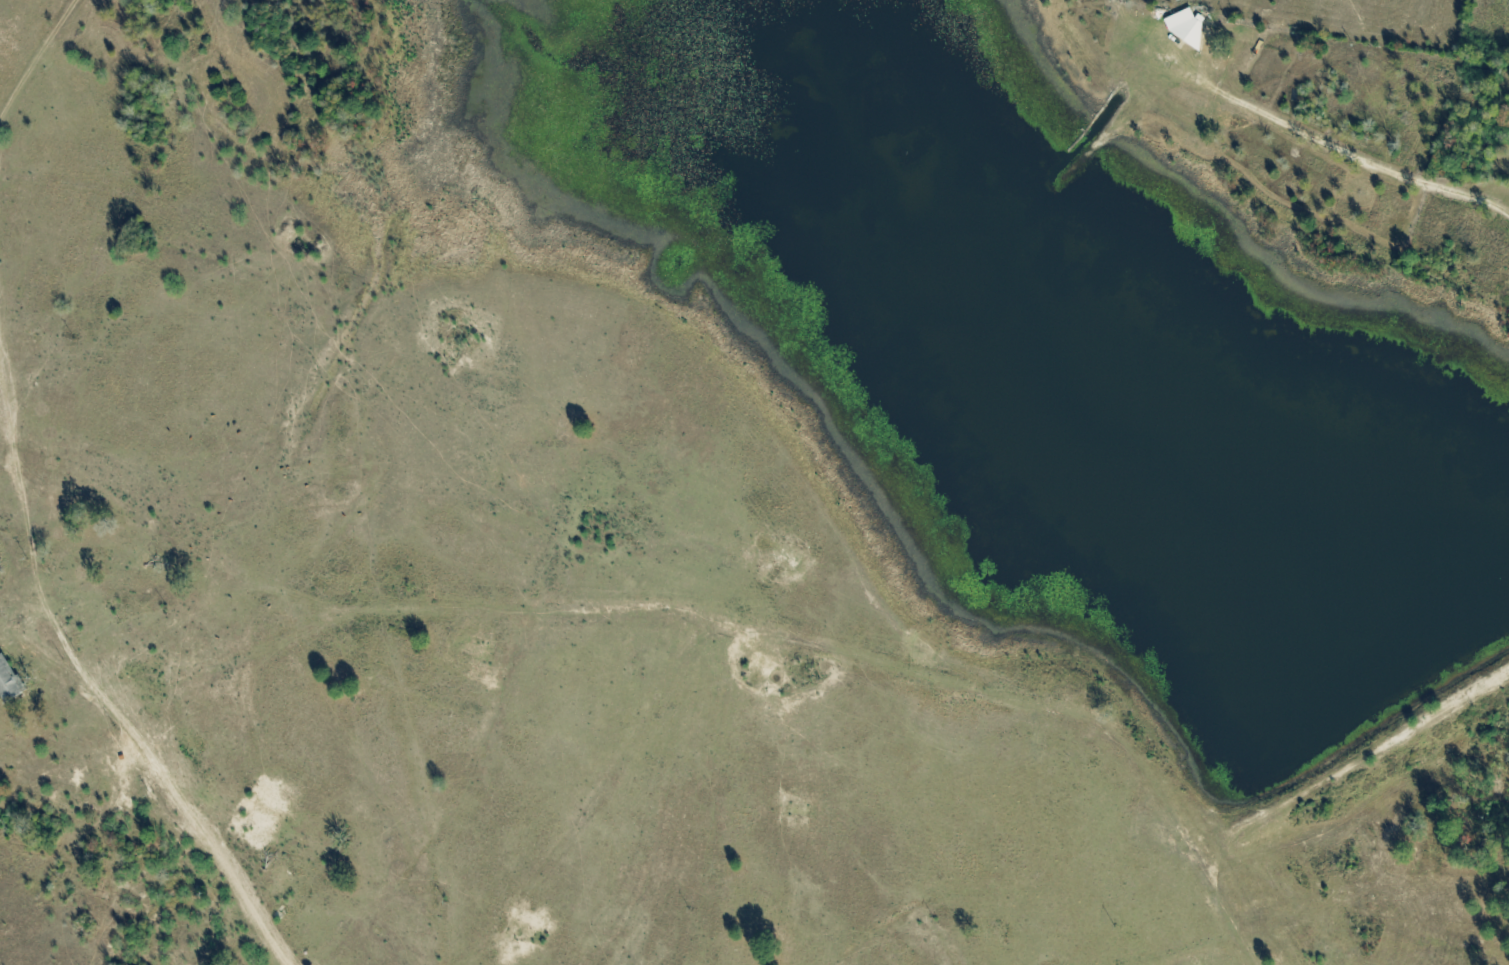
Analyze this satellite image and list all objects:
road: (1298, 128)
building: (11, 682)
road: (196, 814)

